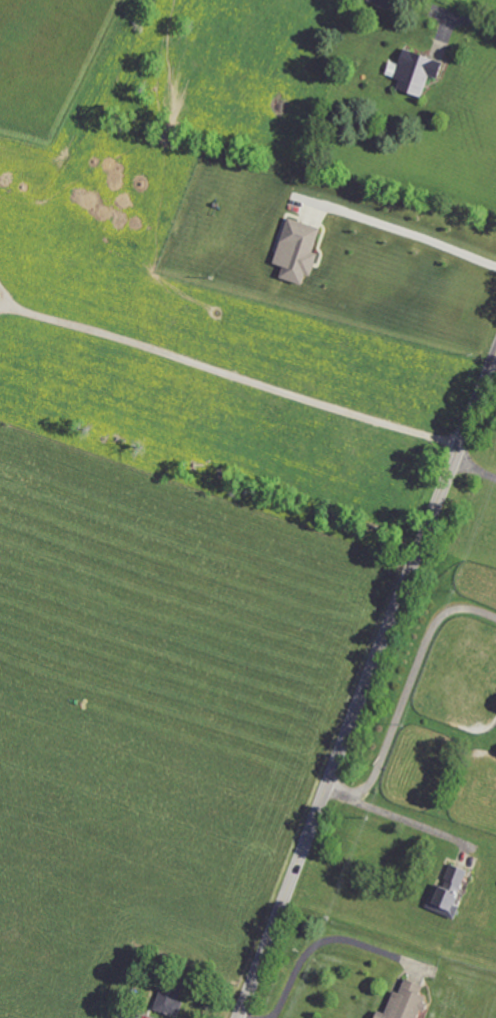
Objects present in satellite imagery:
road: (456, 17)
building: (418, 72)
road: (413, 236)
building: (300, 250)
road: (223, 372)
road: (474, 467)
road: (367, 685)
road: (404, 685)
road: (401, 819)
road: (322, 939)
building: (171, 1001)
building: (408, 1002)
road: (242, 1017)

